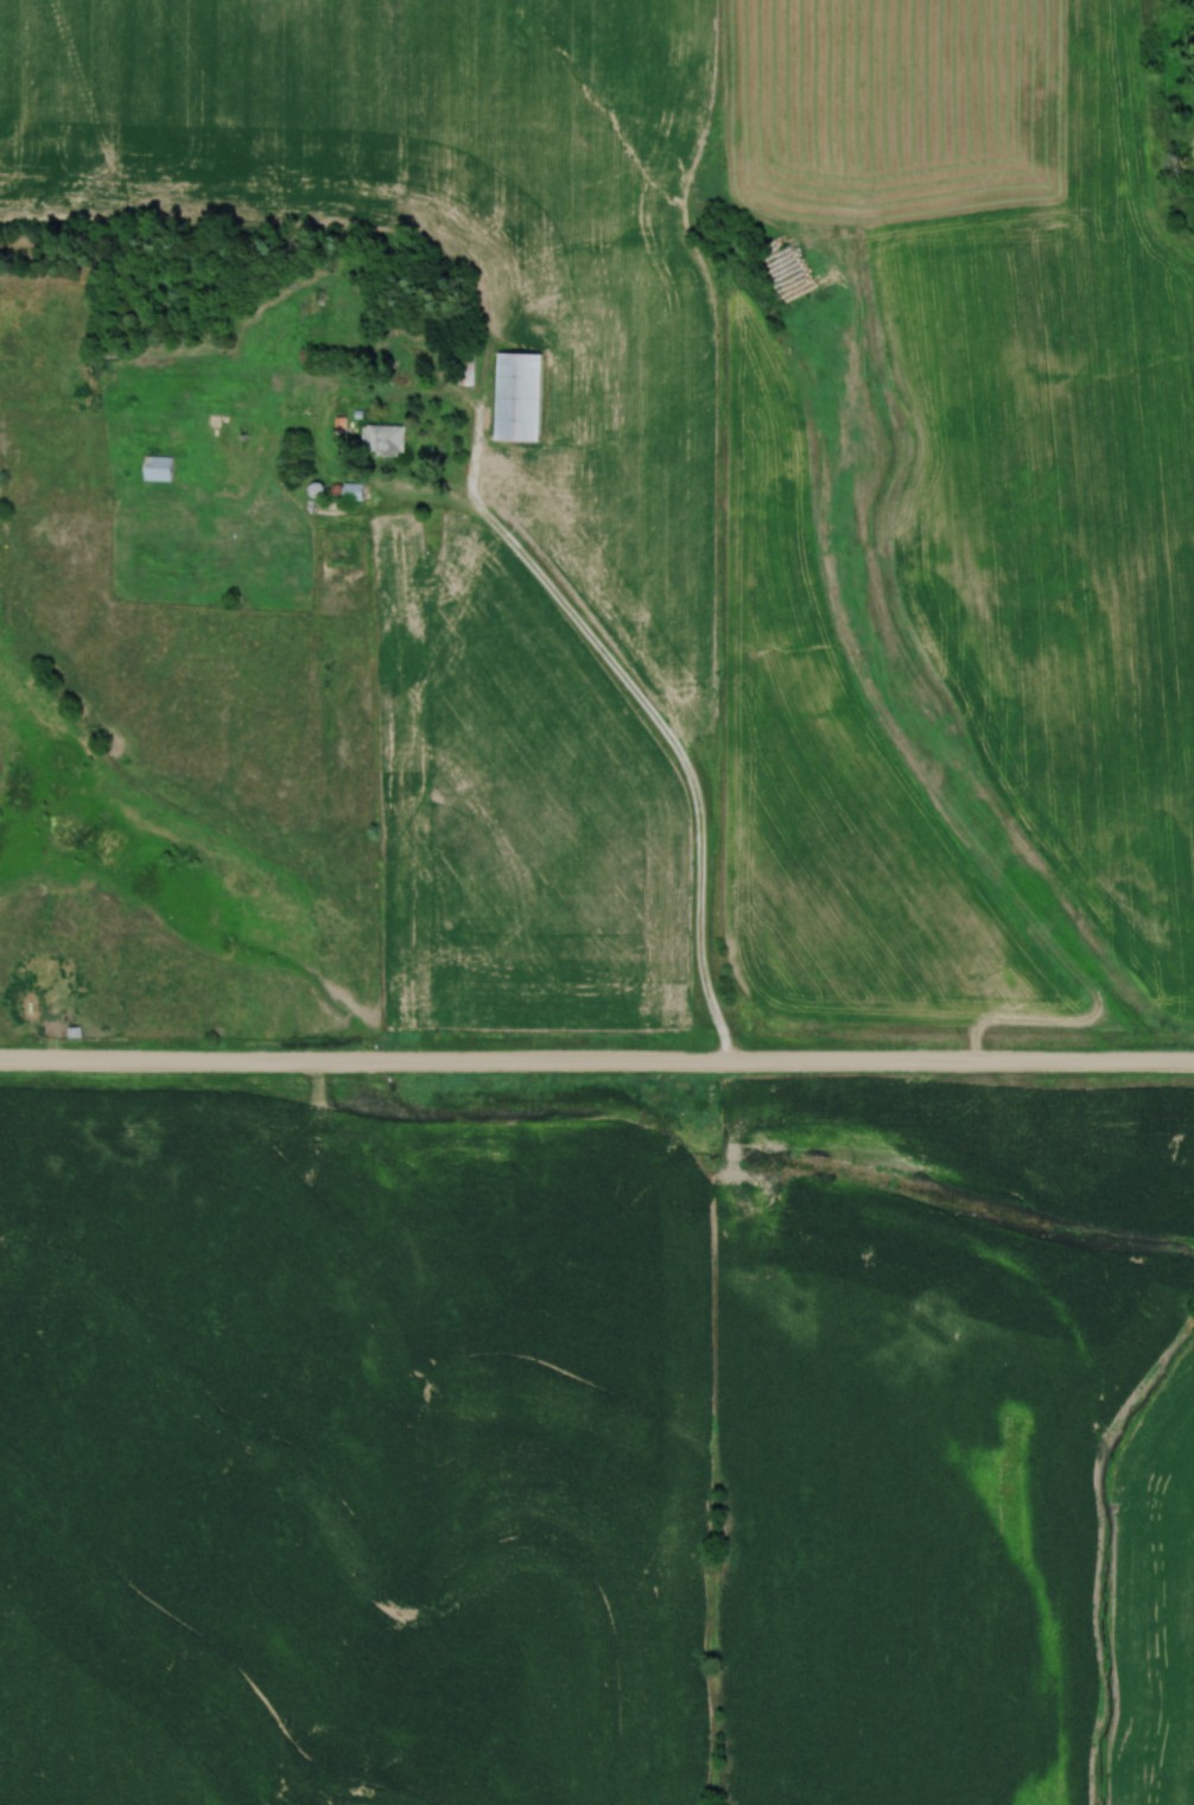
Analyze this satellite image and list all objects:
building: (522, 396)
building: (383, 439)
building: (158, 468)
road: (636, 701)
road: (597, 1062)

